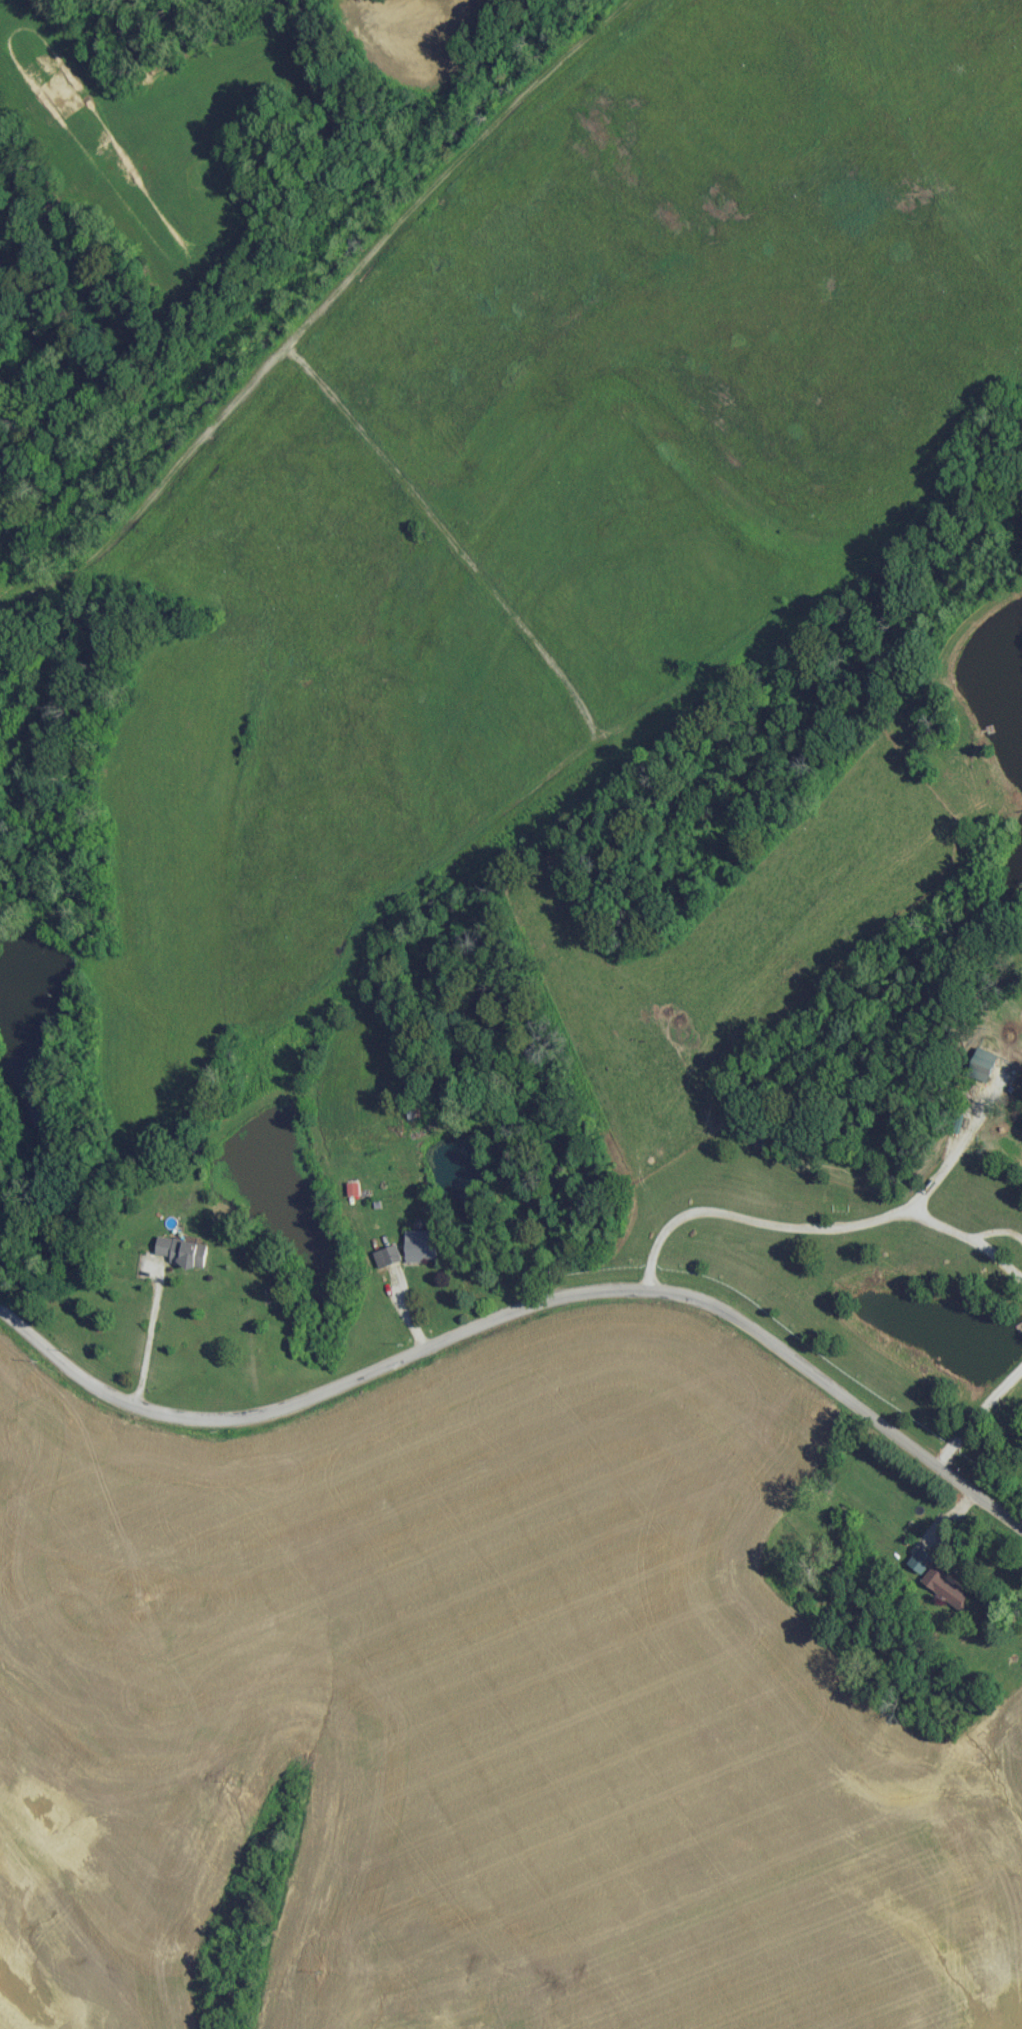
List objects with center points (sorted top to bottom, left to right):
road: (840, 1234)
road: (968, 1248)
building: (422, 1252)
building: (183, 1258)
road: (523, 1309)
road: (147, 1335)
road: (979, 1419)

